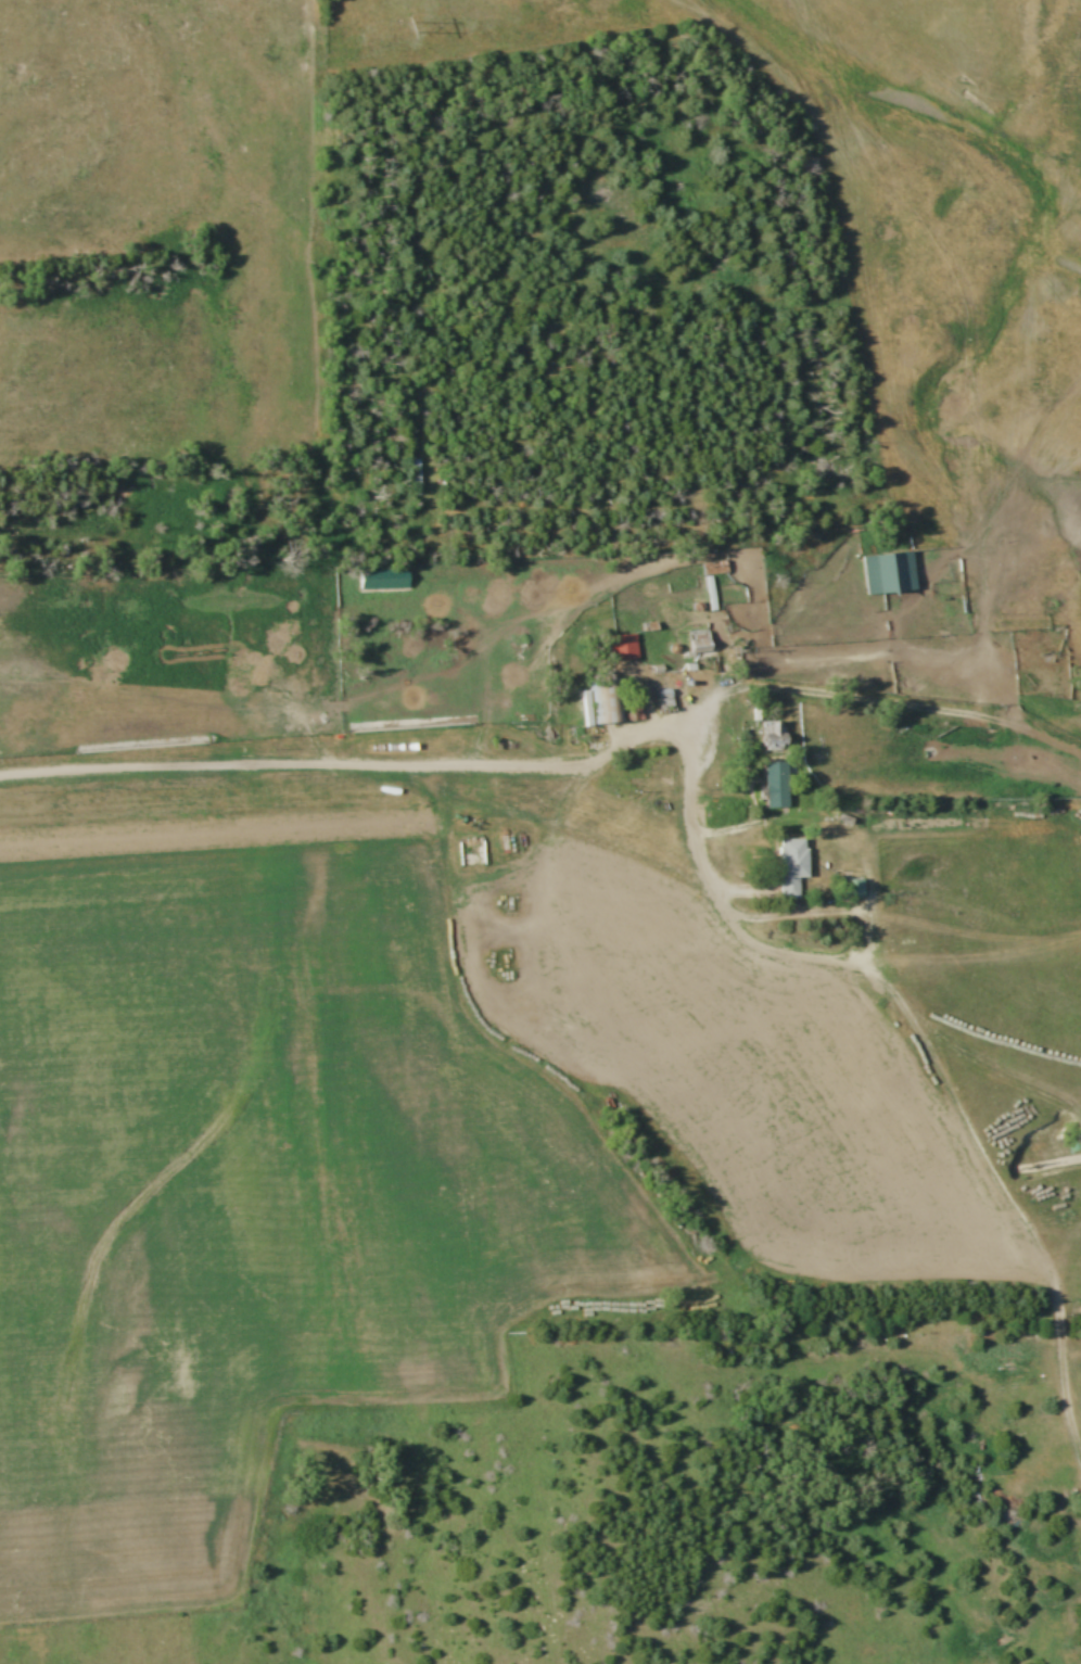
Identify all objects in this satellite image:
power tower: (402, 29)
building: (416, 479)
building: (715, 569)
building: (890, 575)
building: (625, 648)
building: (607, 702)
building: (776, 735)
road: (552, 760)
building: (778, 786)
road: (697, 823)
building: (794, 867)
building: (856, 890)

